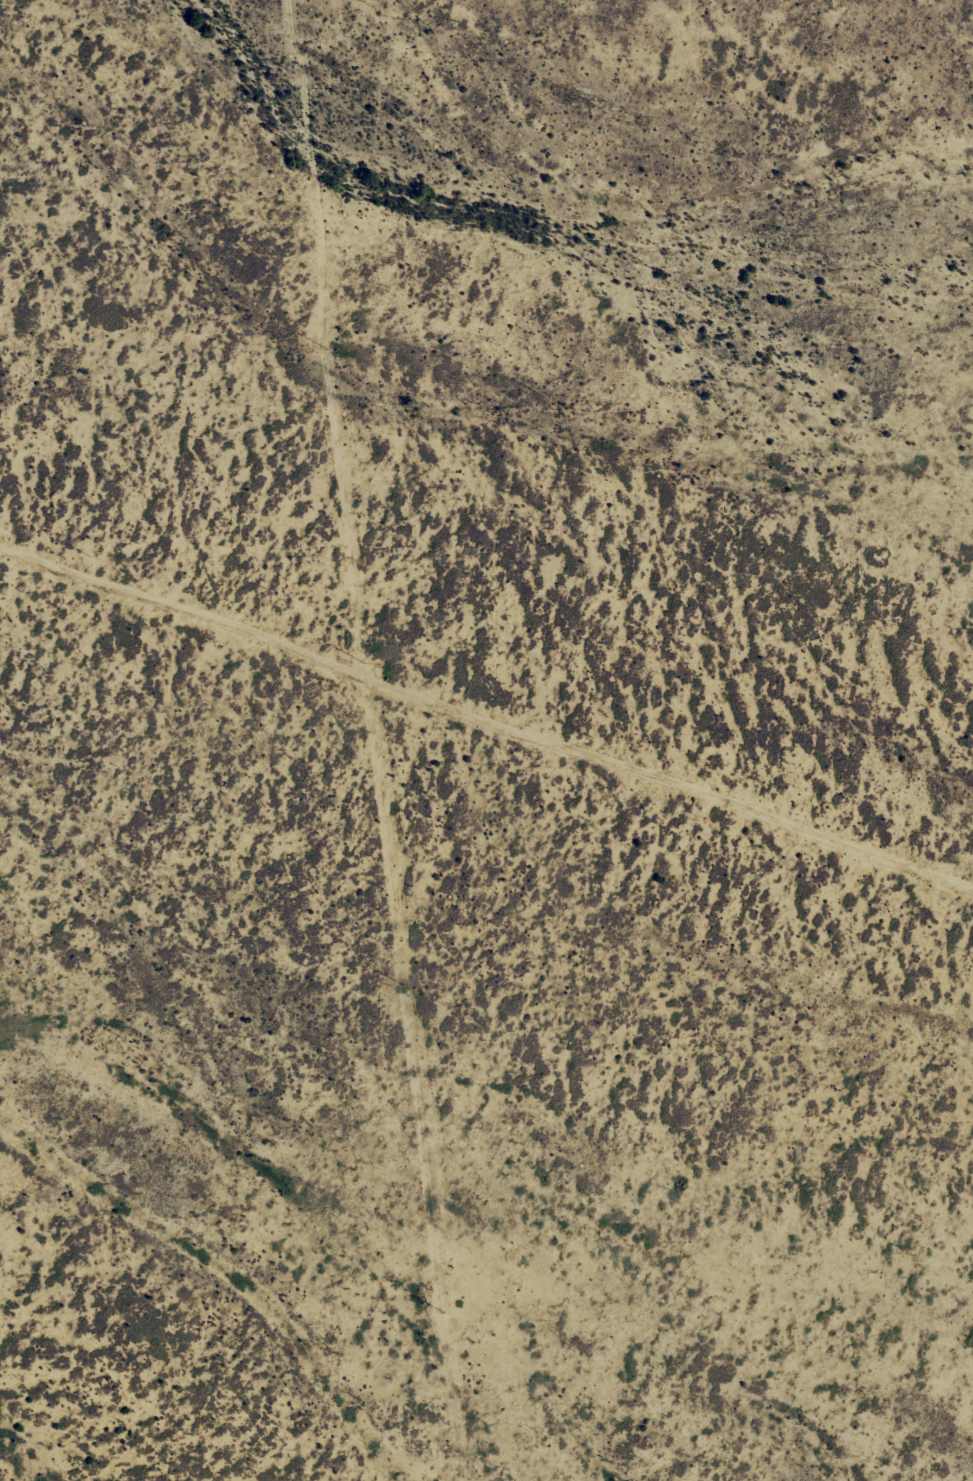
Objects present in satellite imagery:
road: (490, 735)

